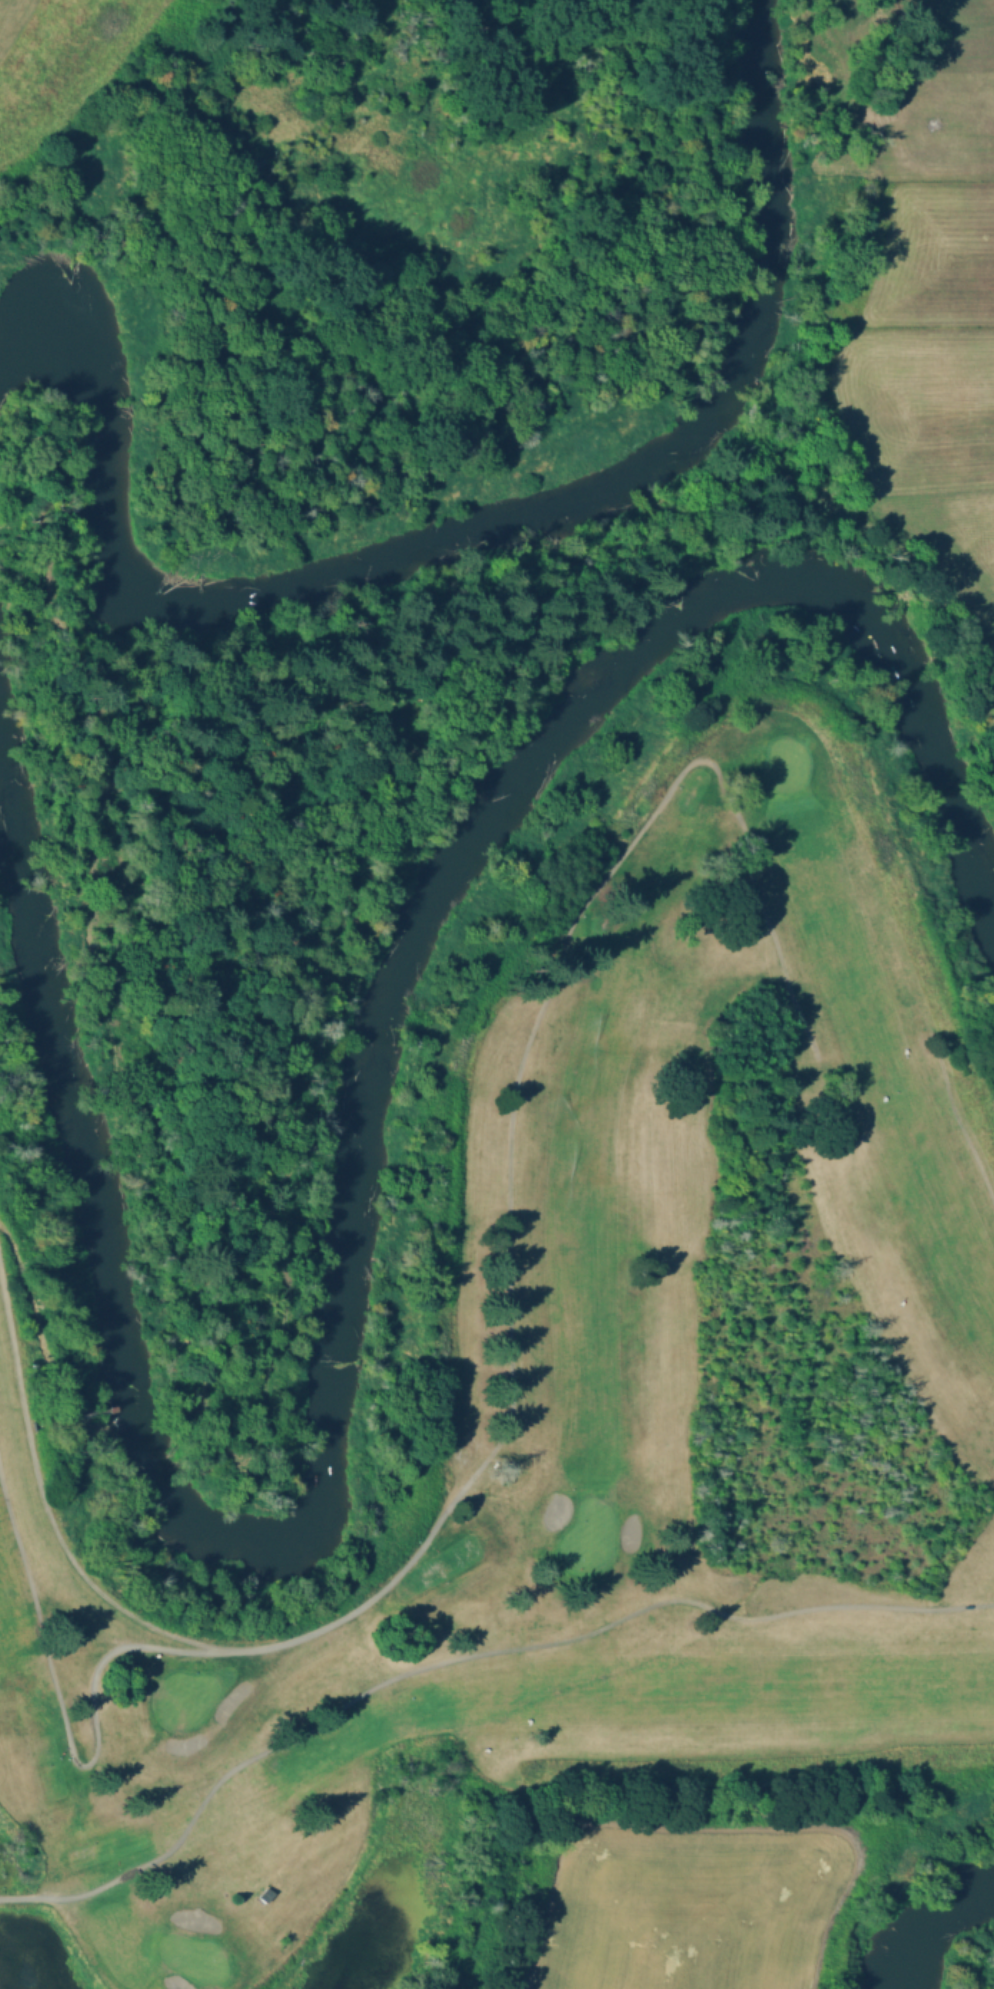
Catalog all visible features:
park: (366, 218)
river: (486, 520)
park: (783, 764)
road: (961, 1128)
river: (358, 1231)
road: (508, 1311)
road: (58, 1418)
park: (584, 1436)
park: (586, 1535)
road: (463, 1656)
park: (181, 1697)
road: (69, 1727)
crop: (686, 1910)
river: (947, 1919)
park: (191, 1956)

